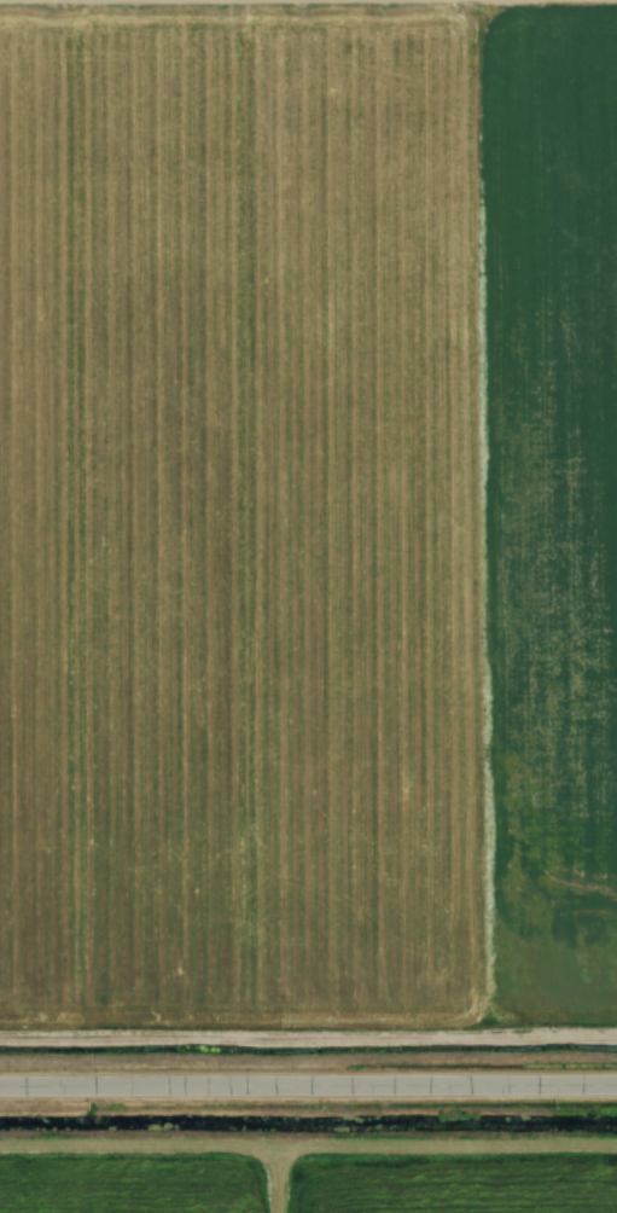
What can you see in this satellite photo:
road: (308, 1092)

